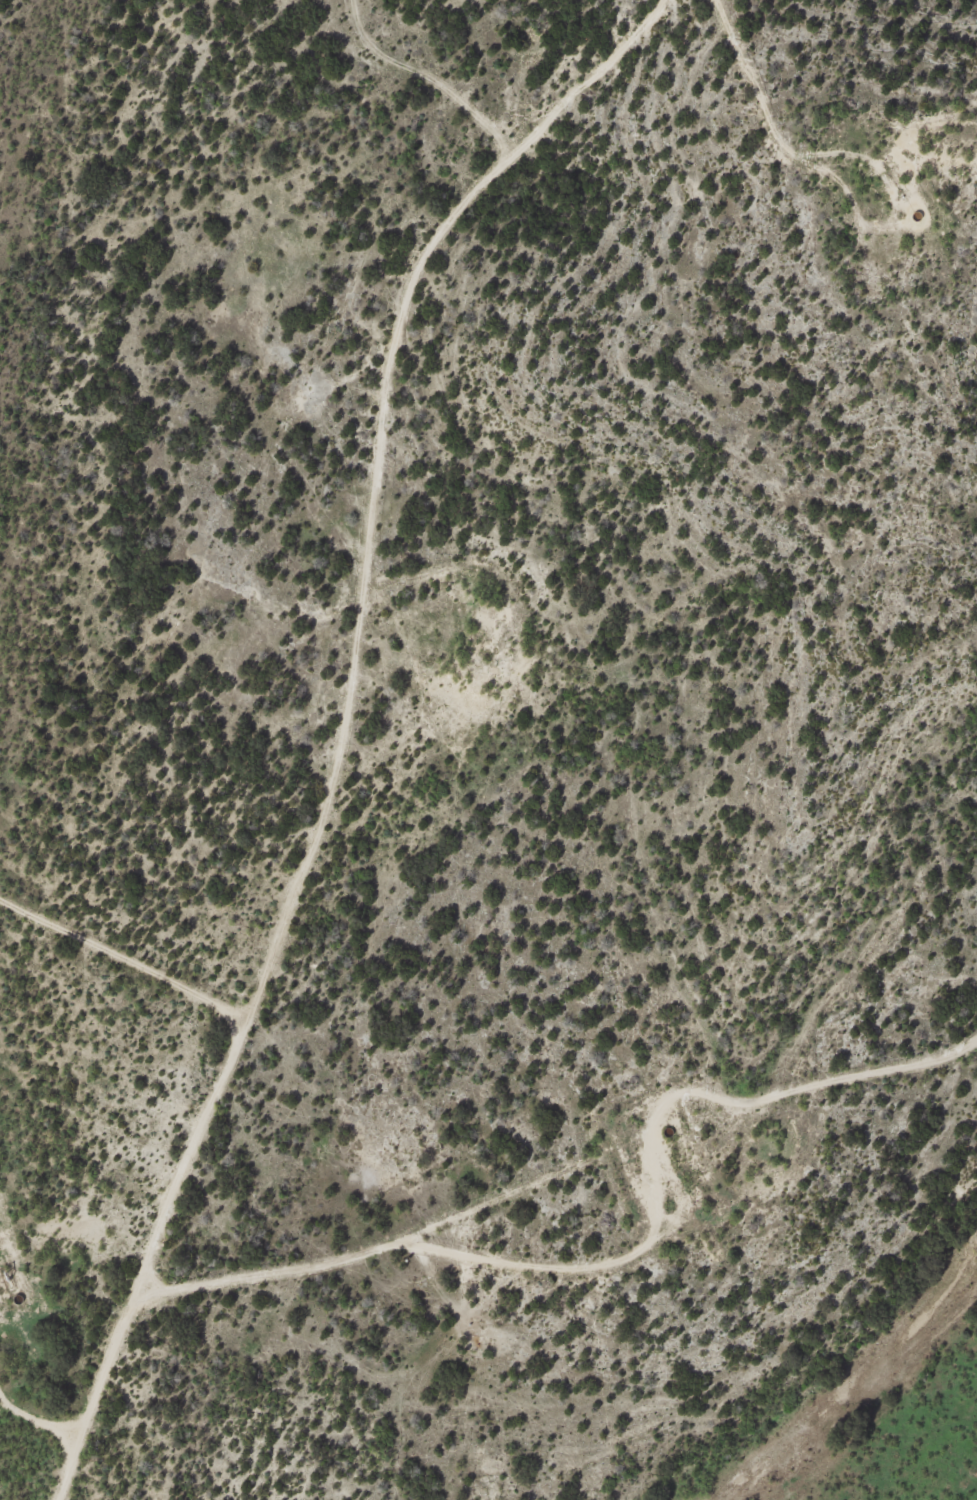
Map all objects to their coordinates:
road: (364, 597)
road: (454, 1194)

